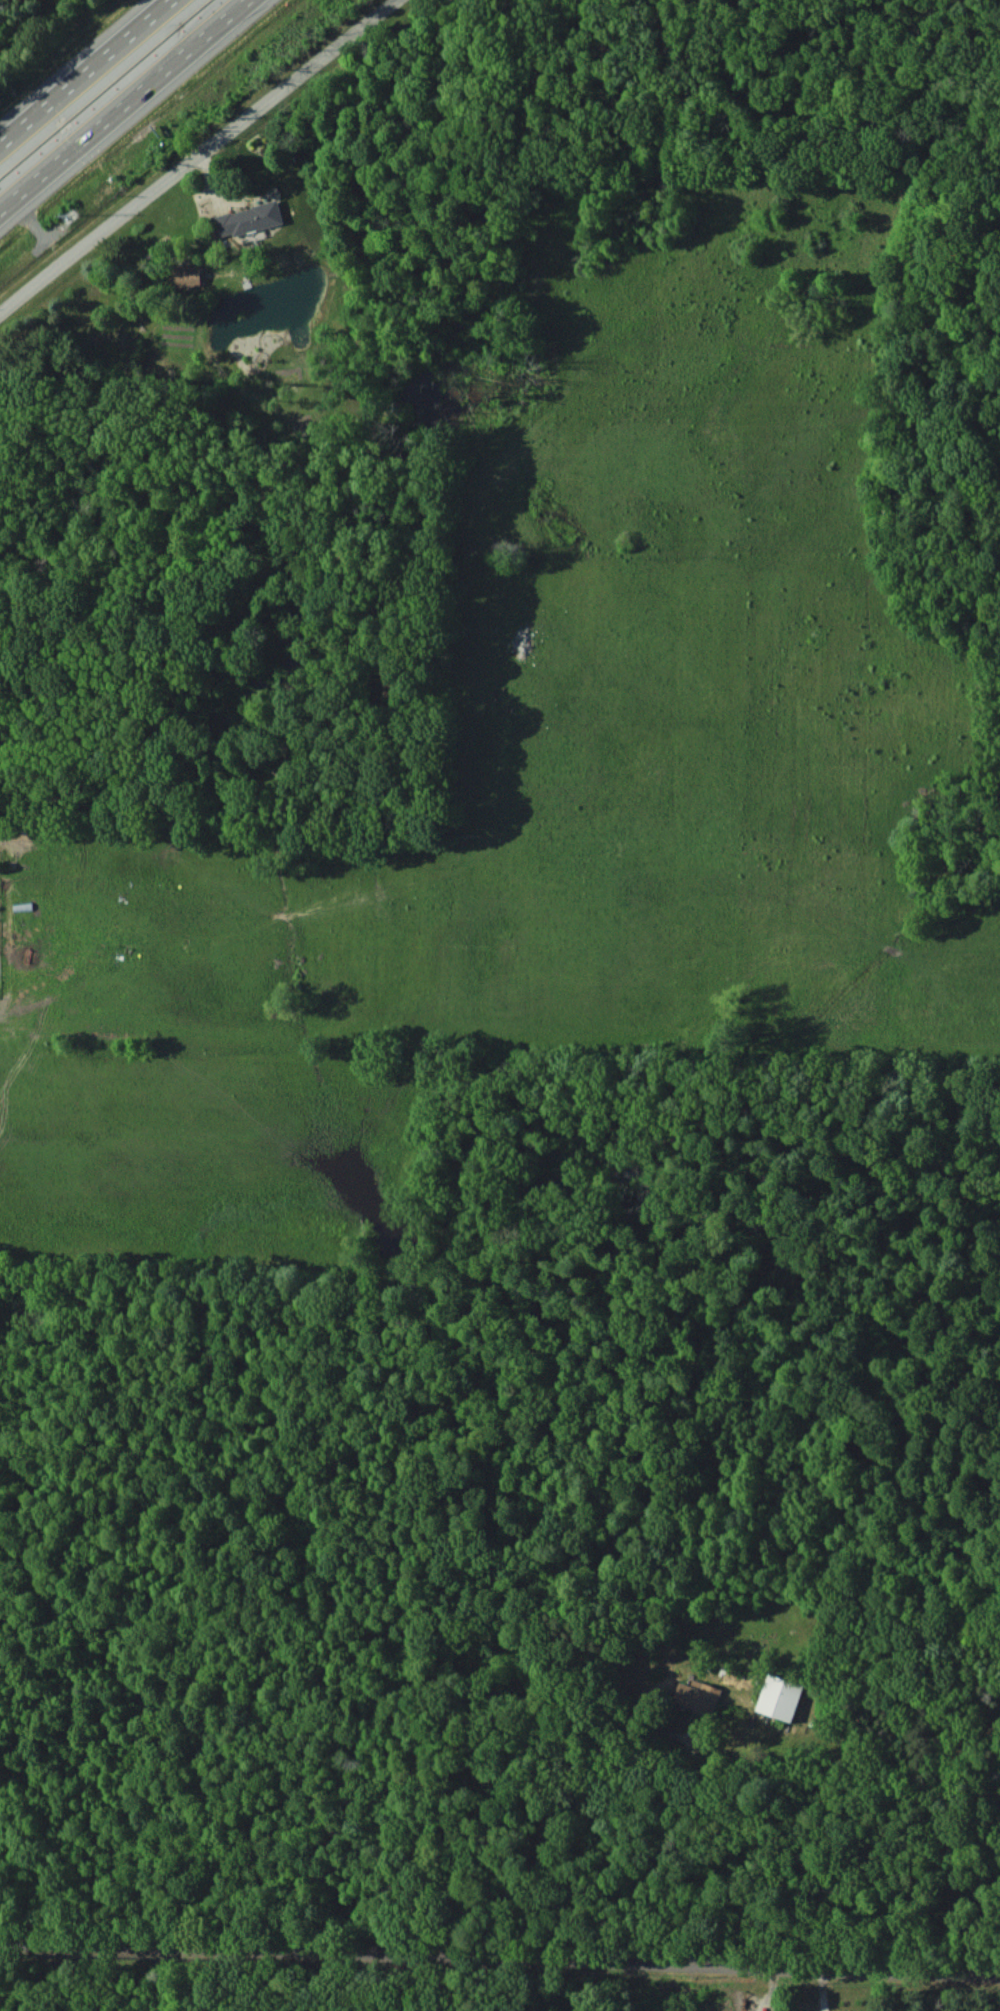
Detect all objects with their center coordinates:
road: (82, 69)
road: (120, 102)
road: (197, 158)
building: (247, 219)
building: (186, 275)
building: (697, 1696)
building: (779, 1697)
road: (555, 1813)
road: (499, 1957)

